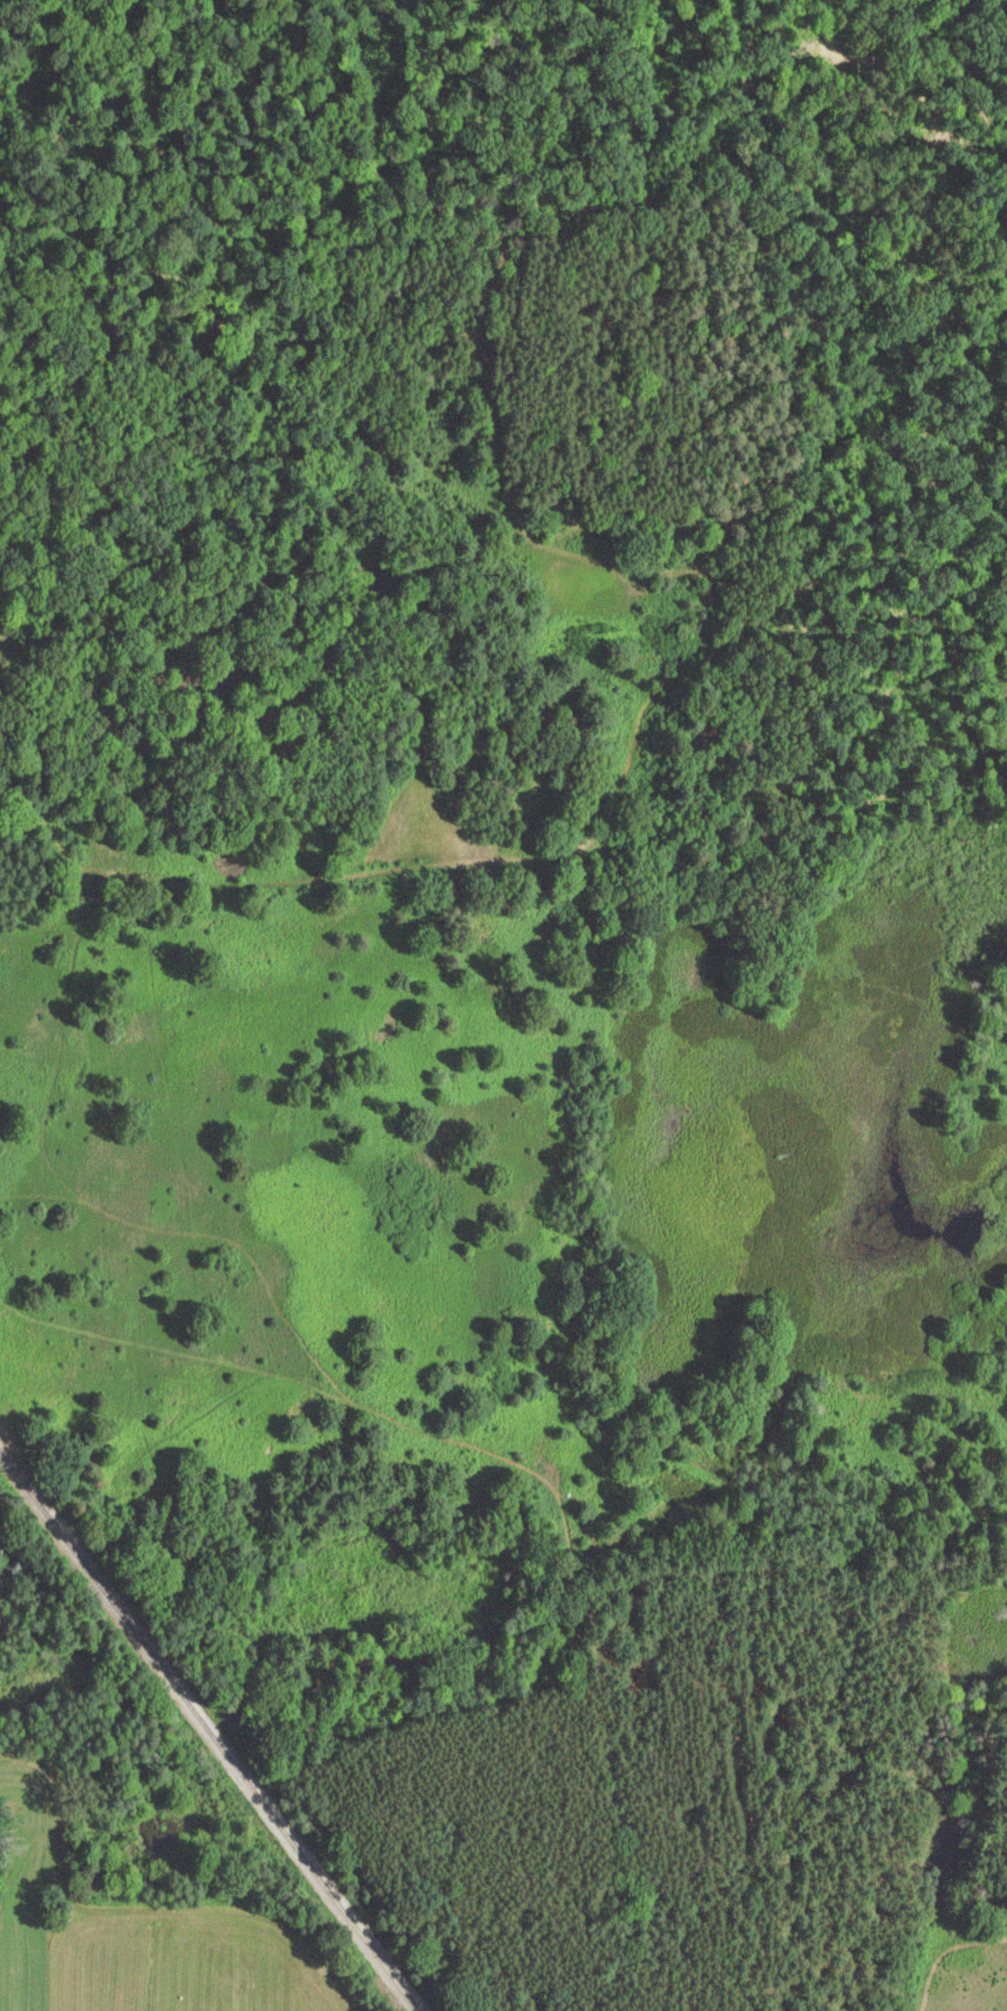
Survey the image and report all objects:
railway: (209, 1729)

